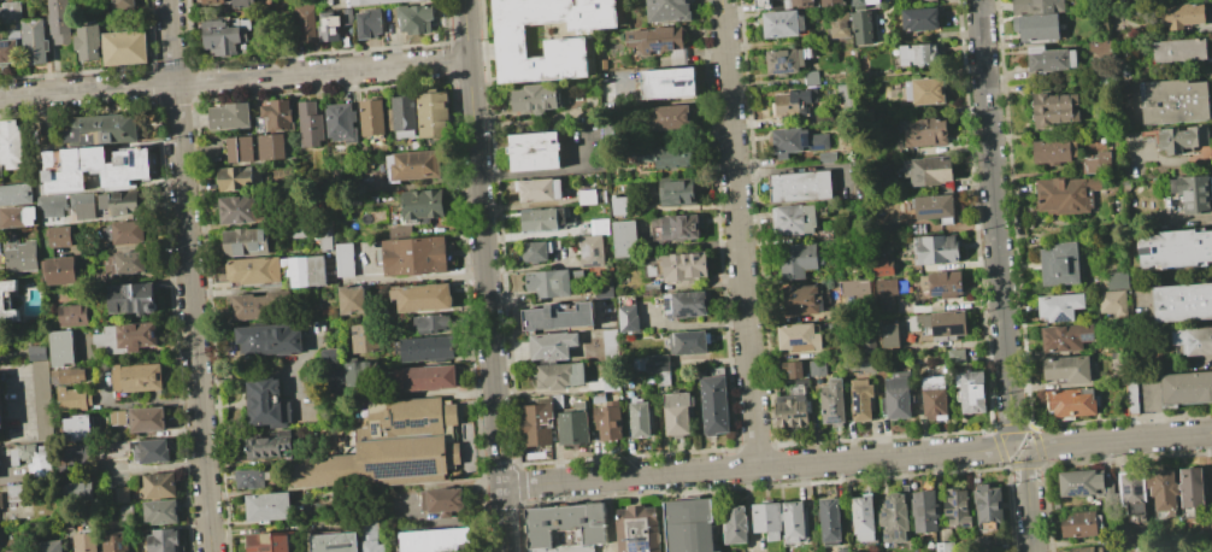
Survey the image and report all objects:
building: (213, 1)
building: (382, 1)
building: (802, 2)
building: (832, 2)
building: (865, 2)
building: (124, 4)
building: (243, 4)
building: (761, 4)
building: (784, 4)
building: (669, 11)
building: (11, 12)
building: (1182, 16)
building: (348, 17)
building: (1039, 18)
building: (417, 19)
building: (920, 19)
building: (307, 20)
building: (61, 22)
building: (783, 23)
building: (370, 24)
building: (330, 25)
building: (851, 25)
building: (390, 30)
building: (665, 30)
building: (224, 37)
building: (89, 41)
building: (347, 41)
building: (653, 42)
building: (34, 43)
building: (125, 47)
building: (566, 48)
building: (1095, 48)
building: (1181, 51)
building: (8, 52)
building: (918, 54)
building: (1051, 59)
building: (787, 60)
building: (1122, 70)
building: (812, 77)
road: (234, 80)
building: (1102, 82)
building: (669, 83)
building: (924, 92)
building: (843, 95)
building: (539, 98)
building: (1175, 101)
building: (792, 102)
building: (1054, 110)
building: (434, 114)
building: (277, 116)
building: (405, 116)
building: (231, 117)
building: (372, 117)
building: (670, 118)
building: (311, 124)
building: (341, 124)
building: (104, 129)
building: (926, 131)
building: (1184, 139)
building: (798, 141)
building: (11, 143)
building: (276, 147)
building: (241, 149)
building: (535, 151)
building: (1055, 152)
building: (667, 155)
building: (828, 158)
building: (1101, 163)
building: (414, 165)
building: (887, 166)
building: (94, 169)
building: (929, 170)
building: (239, 178)
building: (801, 187)
building: (537, 190)
building: (678, 190)
building: (17, 194)
building: (1193, 194)
building: (1063, 195)
building: (588, 196)
building: (83, 200)
building: (52, 202)
building: (119, 202)
building: (424, 205)
building: (620, 205)
building: (930, 207)
building: (241, 210)
building: (17, 217)
building: (543, 218)
building: (794, 219)
road: (996, 219)
building: (595, 225)
building: (678, 227)
building: (892, 228)
building: (918, 228)
building: (125, 233)
building: (316, 233)
road: (739, 234)
building: (65, 236)
building: (625, 239)
building: (246, 242)
building: (936, 248)
building: (1176, 249)
building: (541, 251)
building: (592, 252)
building: (417, 256)
building: (23, 258)
building: (799, 259)
building: (346, 260)
building: (125, 263)
building: (1060, 264)
building: (686, 265)
building: (652, 270)
building: (60, 271)
building: (254, 271)
building: (306, 271)
building: (886, 271)
road: (190, 275)
road: (486, 276)
building: (1118, 280)
building: (552, 282)
building: (942, 284)
building: (652, 289)
building: (133, 298)
building: (423, 298)
building: (352, 300)
building: (804, 300)
building: (1113, 301)
building: (7, 303)
building: (1182, 303)
building: (687, 304)
building: (251, 305)
building: (883, 306)
building: (1061, 306)
building: (75, 315)
building: (559, 318)
building: (628, 318)
building: (434, 322)
building: (945, 324)
building: (890, 336)
building: (127, 337)
building: (361, 337)
building: (800, 337)
building: (1069, 337)
building: (271, 340)
building: (1194, 341)
building: (610, 342)
building: (689, 342)
building: (870, 345)
building: (61, 348)
building: (429, 350)
building: (39, 353)
building: (957, 357)
road: (1200, 358)
building: (557, 360)
building: (860, 362)
building: (654, 368)
building: (818, 368)
building: (794, 370)
building: (1069, 370)
building: (355, 374)
building: (66, 375)
building: (139, 377)
building: (333, 377)
building: (428, 378)
building: (1130, 383)
building: (1185, 388)
building: (971, 392)
building: (599, 398)
building: (936, 398)
building: (75, 399)
building: (863, 399)
building: (896, 399)
building: (558, 401)
building: (1072, 401)
building: (267, 403)
building: (834, 403)
building: (713, 405)
road: (1158, 406)
building: (793, 411)
building: (678, 412)
building: (118, 417)
building: (147, 419)
building: (642, 419)
building: (0, 421)
building: (608, 421)
building: (539, 424)
building: (76, 428)
building: (573, 428)
road: (1120, 438)
building: (267, 446)
road: (1022, 447)
building: (123, 448)
building: (392, 448)
building: (152, 451)
building: (78, 453)
building: (35, 458)
road: (757, 468)
building: (253, 478)
building: (1083, 483)
building: (160, 486)
building: (1192, 488)
building: (77, 489)
building: (1164, 489)
building: (1132, 491)
building: (16, 492)
building: (118, 495)
road: (349, 495)
building: (1, 500)
building: (443, 501)
road: (1028, 501)
building: (989, 503)
building: (269, 506)
building: (957, 506)
building: (925, 511)
building: (161, 512)
building: (864, 518)
building: (895, 519)
building: (782, 521)
building: (830, 521)
building: (736, 524)
building: (1079, 524)
building: (567, 525)
building: (693, 525)
building: (639, 529)
building: (371, 530)
building: (941, 533)
building: (431, 540)
building: (114, 541)
building: (165, 541)
building: (271, 541)
building: (986, 541)
building: (86, 542)
building: (335, 542)
building: (49, 546)
building: (945, 546)
building: (566, 548)
building: (917, 548)
building: (1111, 548)
building: (819, 550)
building: (842, 550)
building: (1081, 550)

